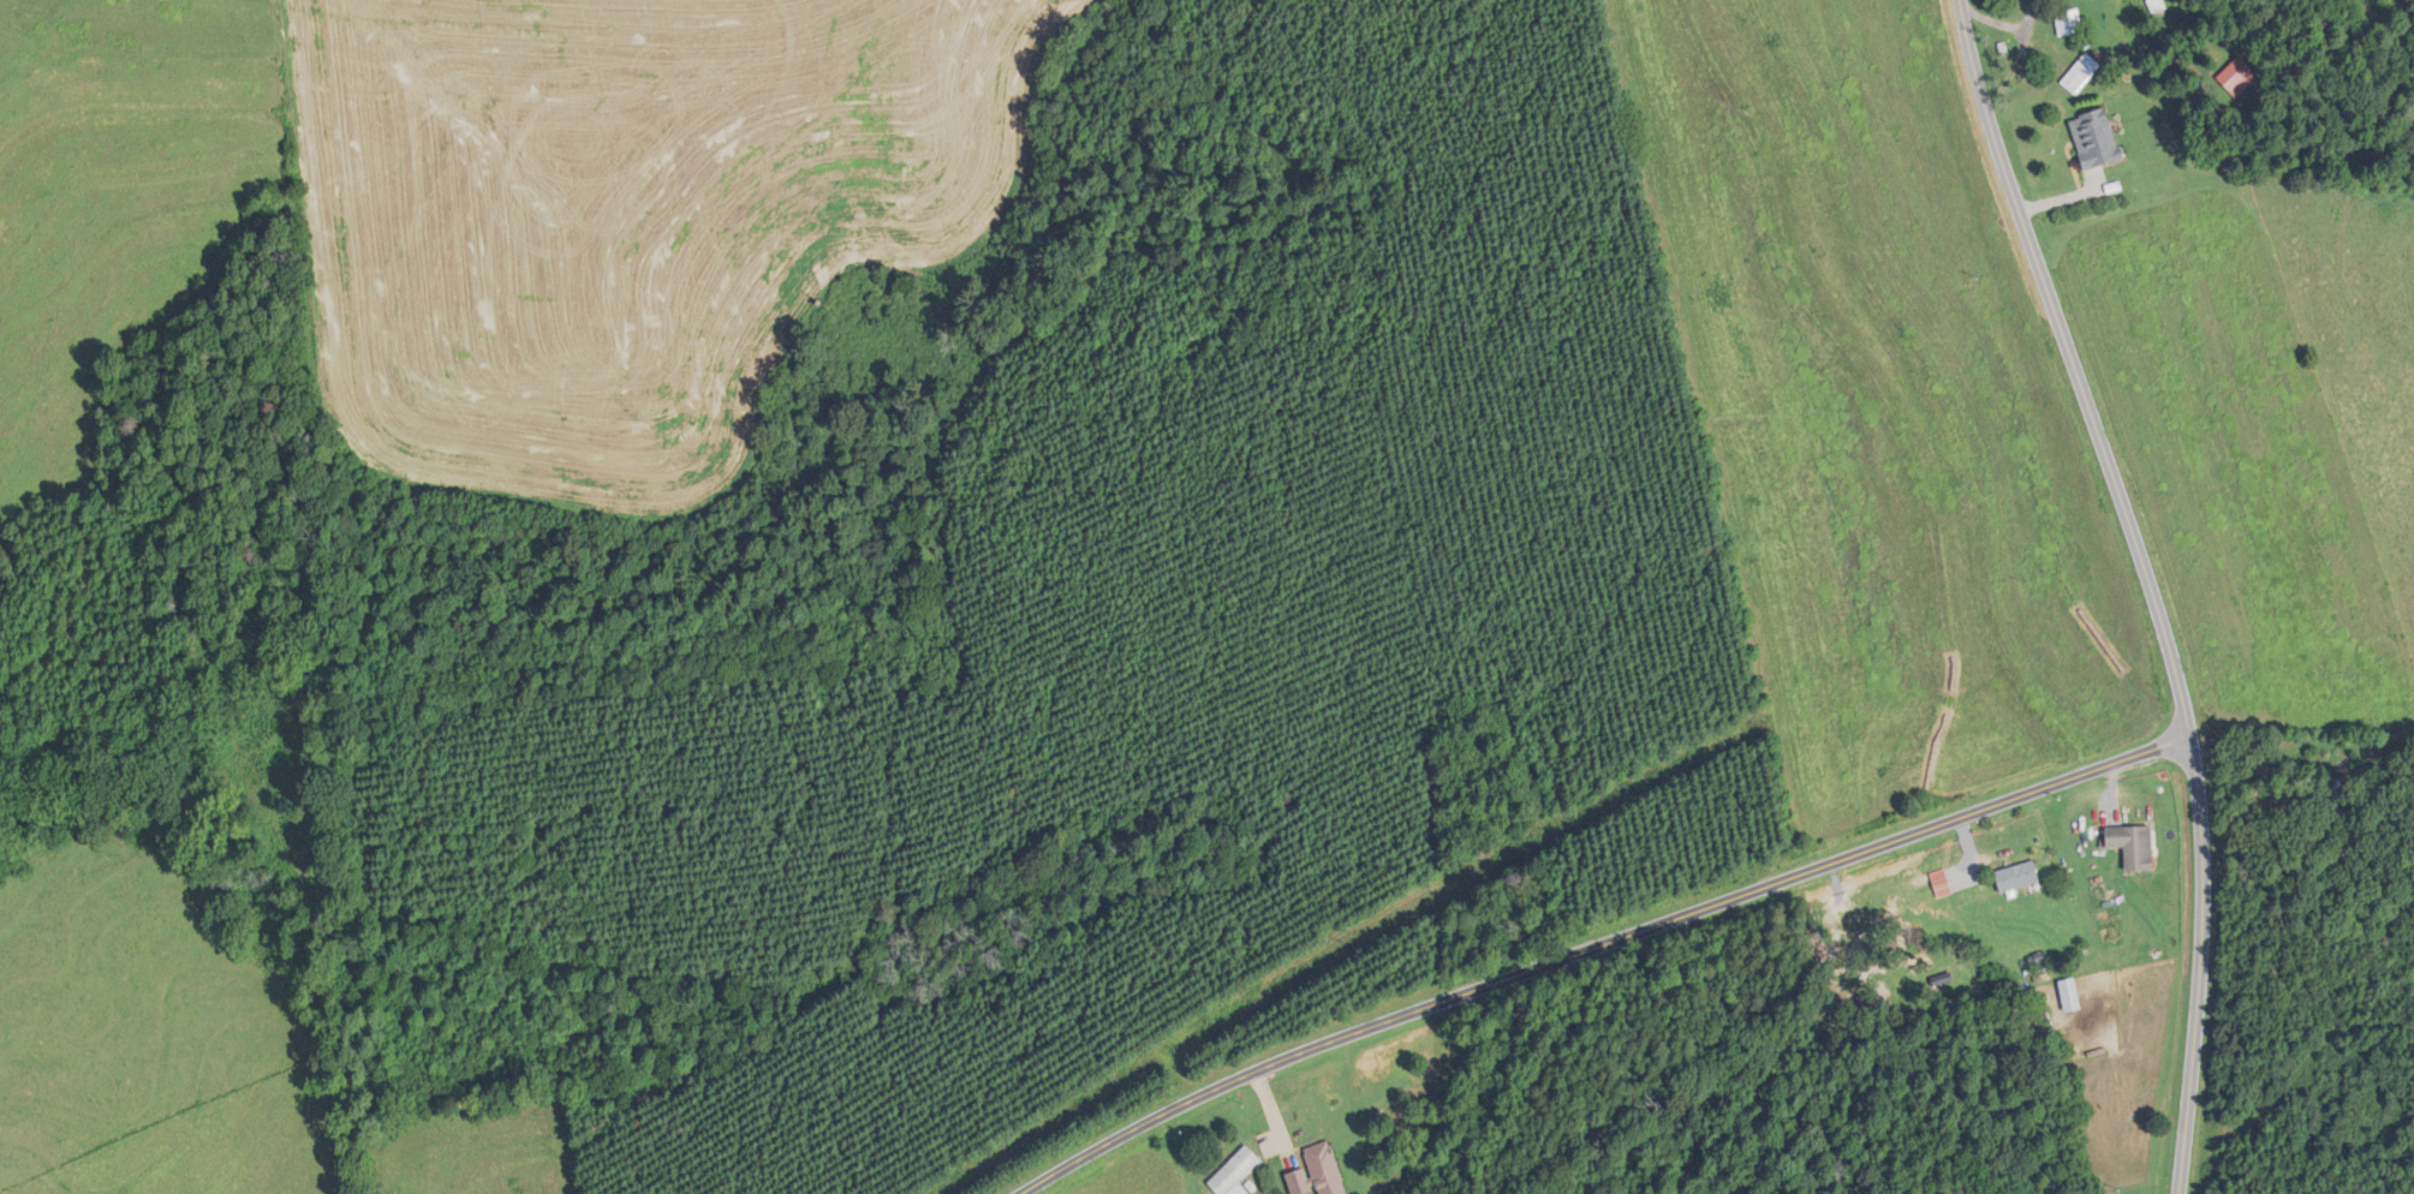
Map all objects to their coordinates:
building: (2068, 23)
building: (2081, 73)
building: (2237, 77)
building: (2094, 138)
road: (2153, 584)
road: (2258, 787)
building: (2337, 799)
building: (2132, 844)
building: (2016, 876)
road: (1585, 941)
building: (1317, 1172)
building: (1234, 1174)

